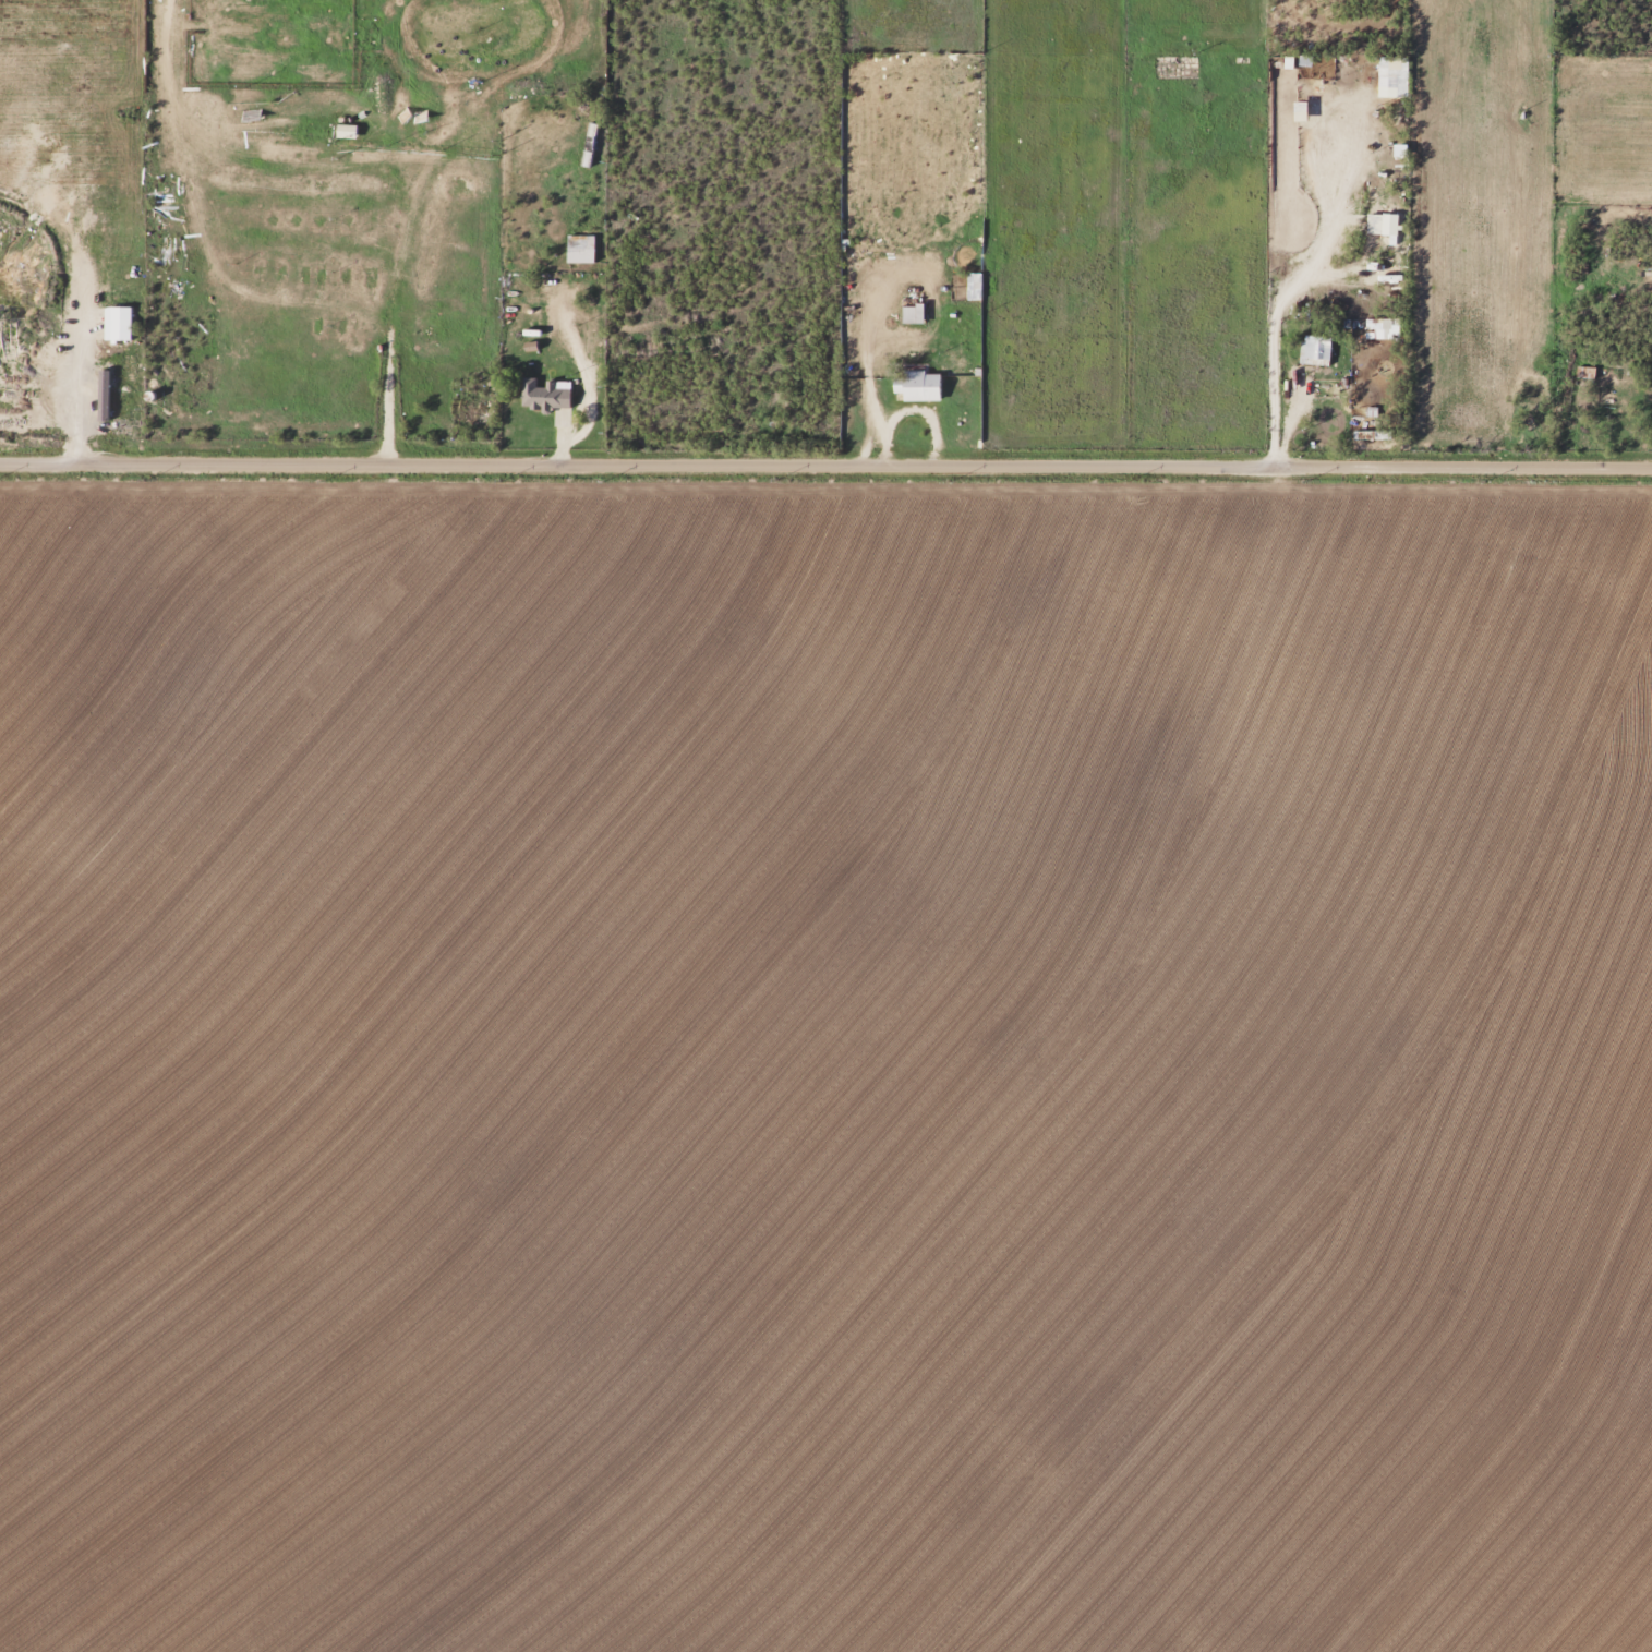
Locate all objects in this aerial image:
building: (1307, 60)
building: (1395, 73)
building: (343, 131)
building: (592, 144)
building: (1387, 226)
building: (579, 250)
building: (973, 287)
building: (911, 312)
building: (116, 324)
building: (1390, 329)
building: (1313, 351)
building: (594, 355)
building: (916, 385)
building: (108, 395)
building: (543, 396)
road: (825, 467)

